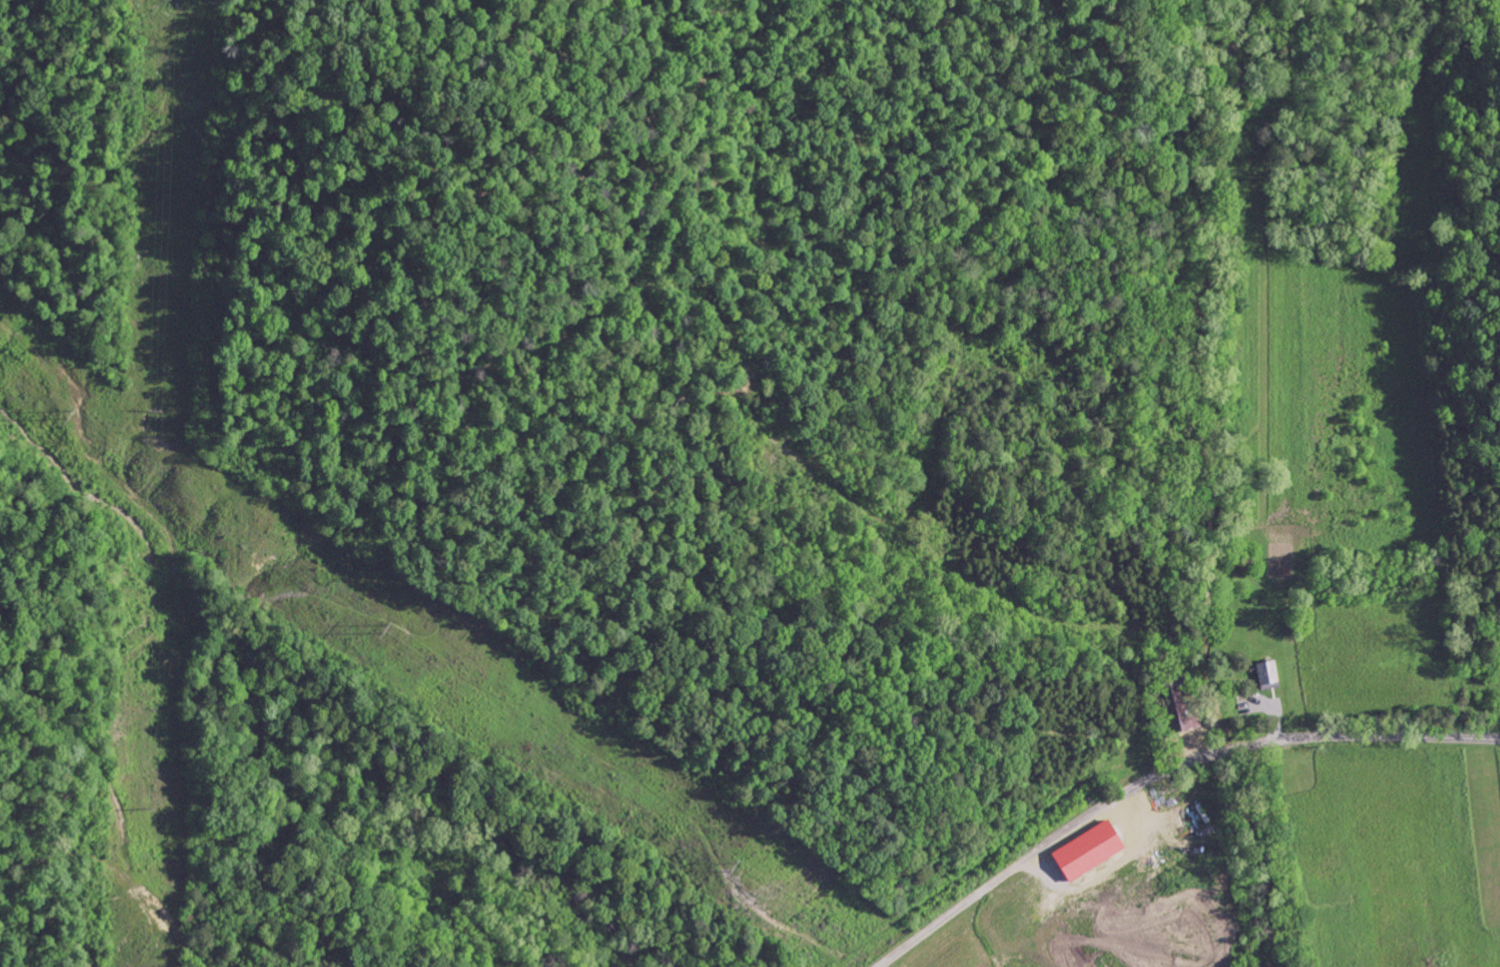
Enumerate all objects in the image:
power tower: (70, 414)
power tower: (385, 629)
building: (1265, 675)
building: (1176, 706)
road: (1163, 775)
building: (1083, 851)
power tower: (743, 865)

